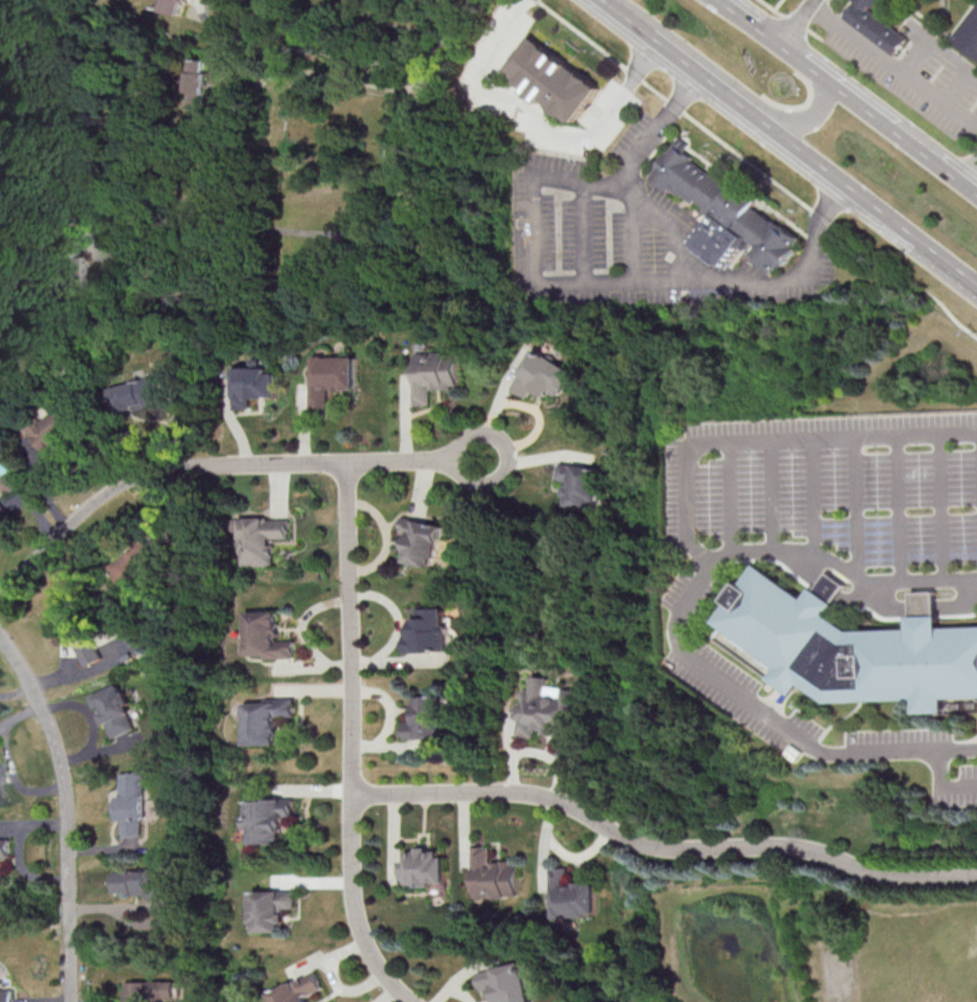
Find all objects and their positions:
building: (173, 5)
road: (626, 17)
road: (790, 19)
road: (794, 23)
building: (876, 25)
building: (968, 33)
road: (323, 54)
road: (893, 63)
road: (263, 71)
building: (552, 79)
road: (710, 80)
building: (194, 84)
road: (846, 99)
road: (416, 111)
road: (810, 118)
road: (536, 123)
road: (970, 151)
road: (758, 169)
road: (970, 174)
road: (846, 183)
building: (725, 212)
road: (269, 227)
road: (585, 233)
road: (636, 241)
road: (684, 257)
road: (948, 263)
road: (536, 264)
building: (432, 374)
building: (543, 375)
building: (331, 377)
building: (252, 383)
building: (136, 394)
building: (54, 428)
road: (204, 466)
road: (492, 477)
building: (7, 483)
building: (581, 484)
road: (777, 495)
road: (737, 496)
road: (819, 497)
road: (696, 499)
building: (2, 508)
road: (860, 508)
road: (944, 508)
road: (903, 510)
building: (261, 539)
building: (422, 540)
building: (131, 566)
building: (428, 631)
building: (79, 634)
building: (264, 636)
building: (856, 646)
building: (545, 709)
building: (113, 710)
building: (428, 718)
building: (265, 720)
road: (767, 723)
road: (343, 741)
road: (941, 786)
building: (0, 794)
building: (132, 803)
road: (67, 811)
building: (272, 819)
road: (657, 846)
building: (426, 867)
building: (495, 875)
building: (572, 896)
building: (275, 909)
building: (507, 983)
building: (302, 989)
building: (8, 995)

